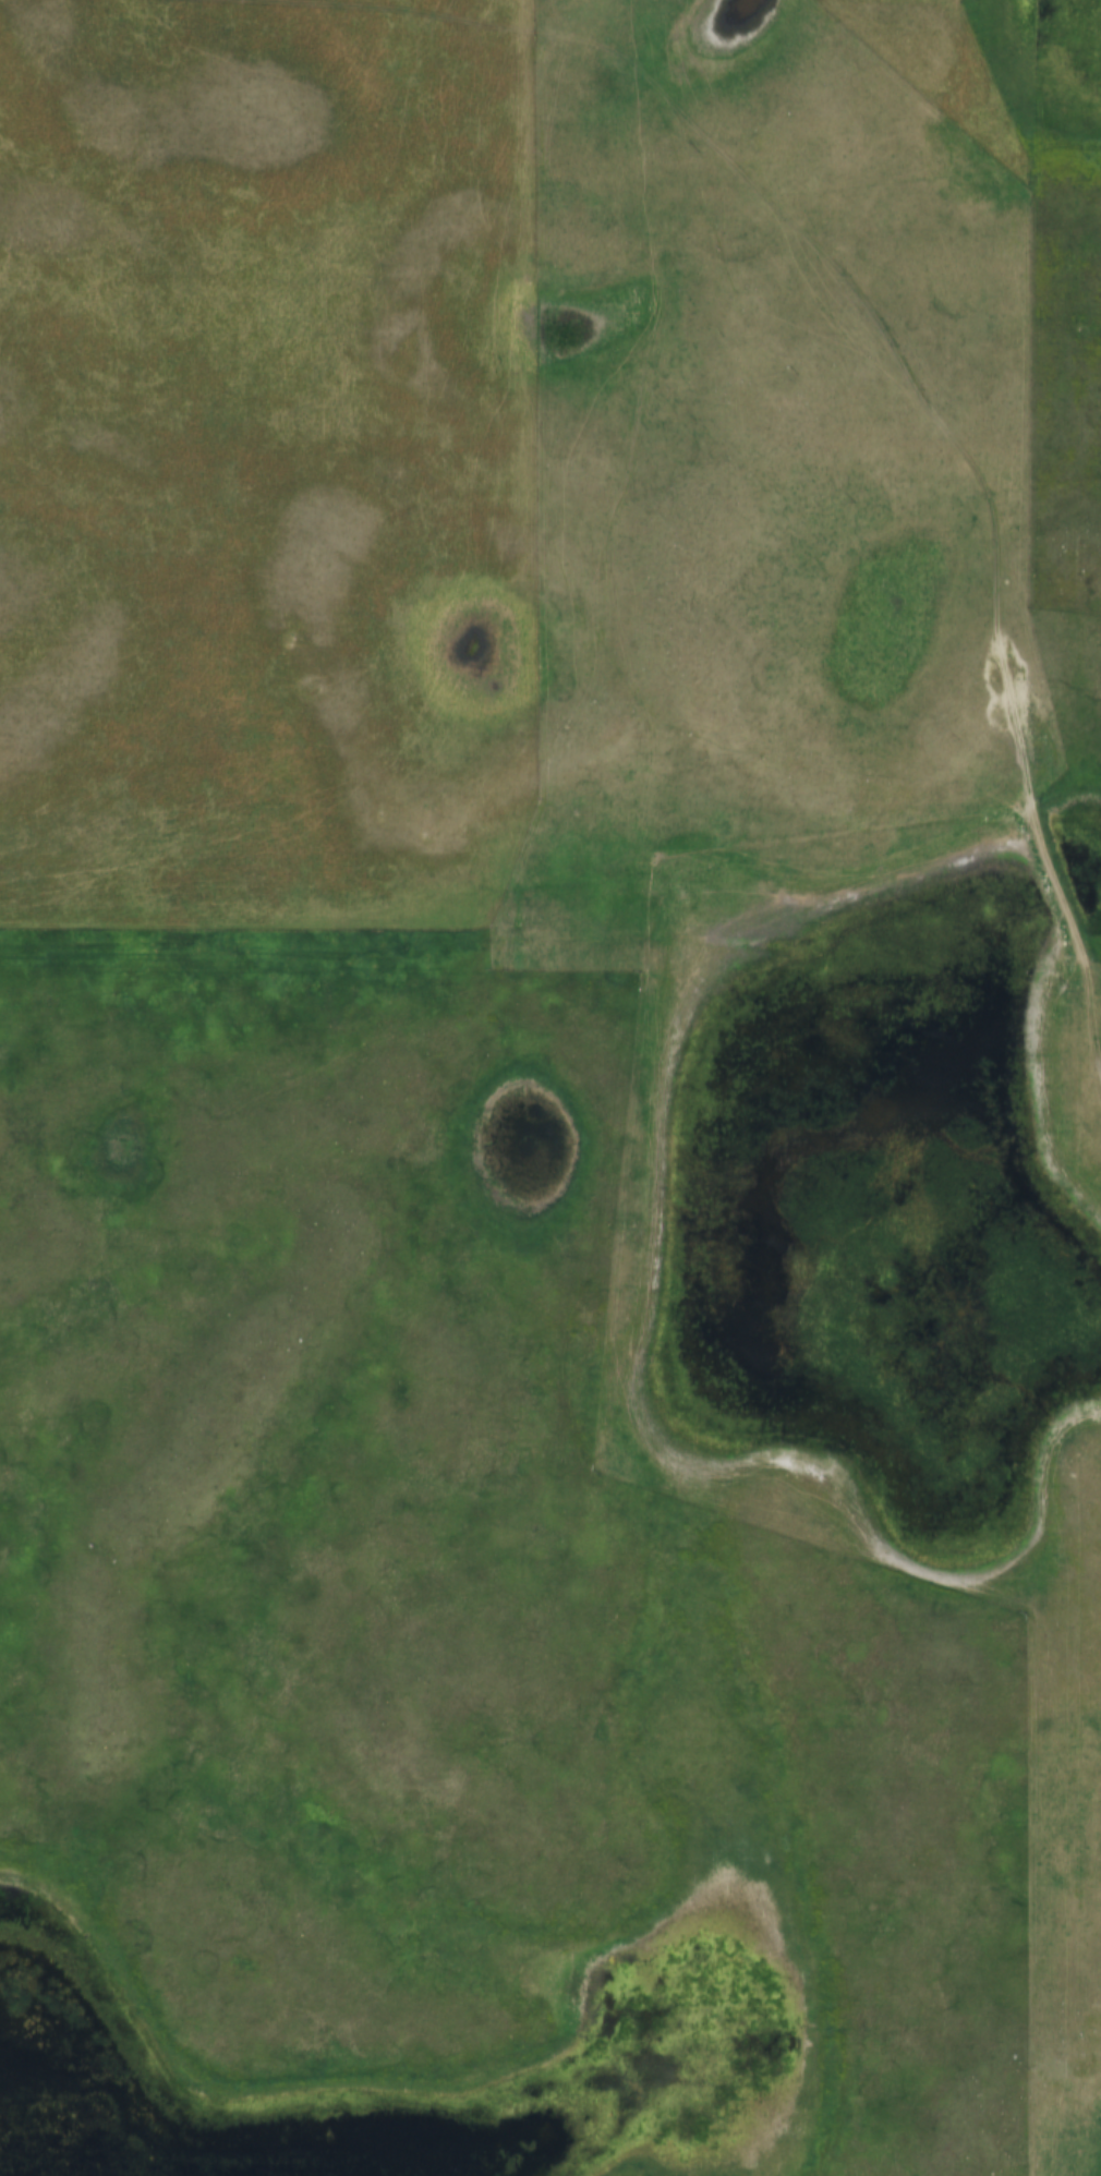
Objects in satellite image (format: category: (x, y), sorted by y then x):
road: (996, 1087)

